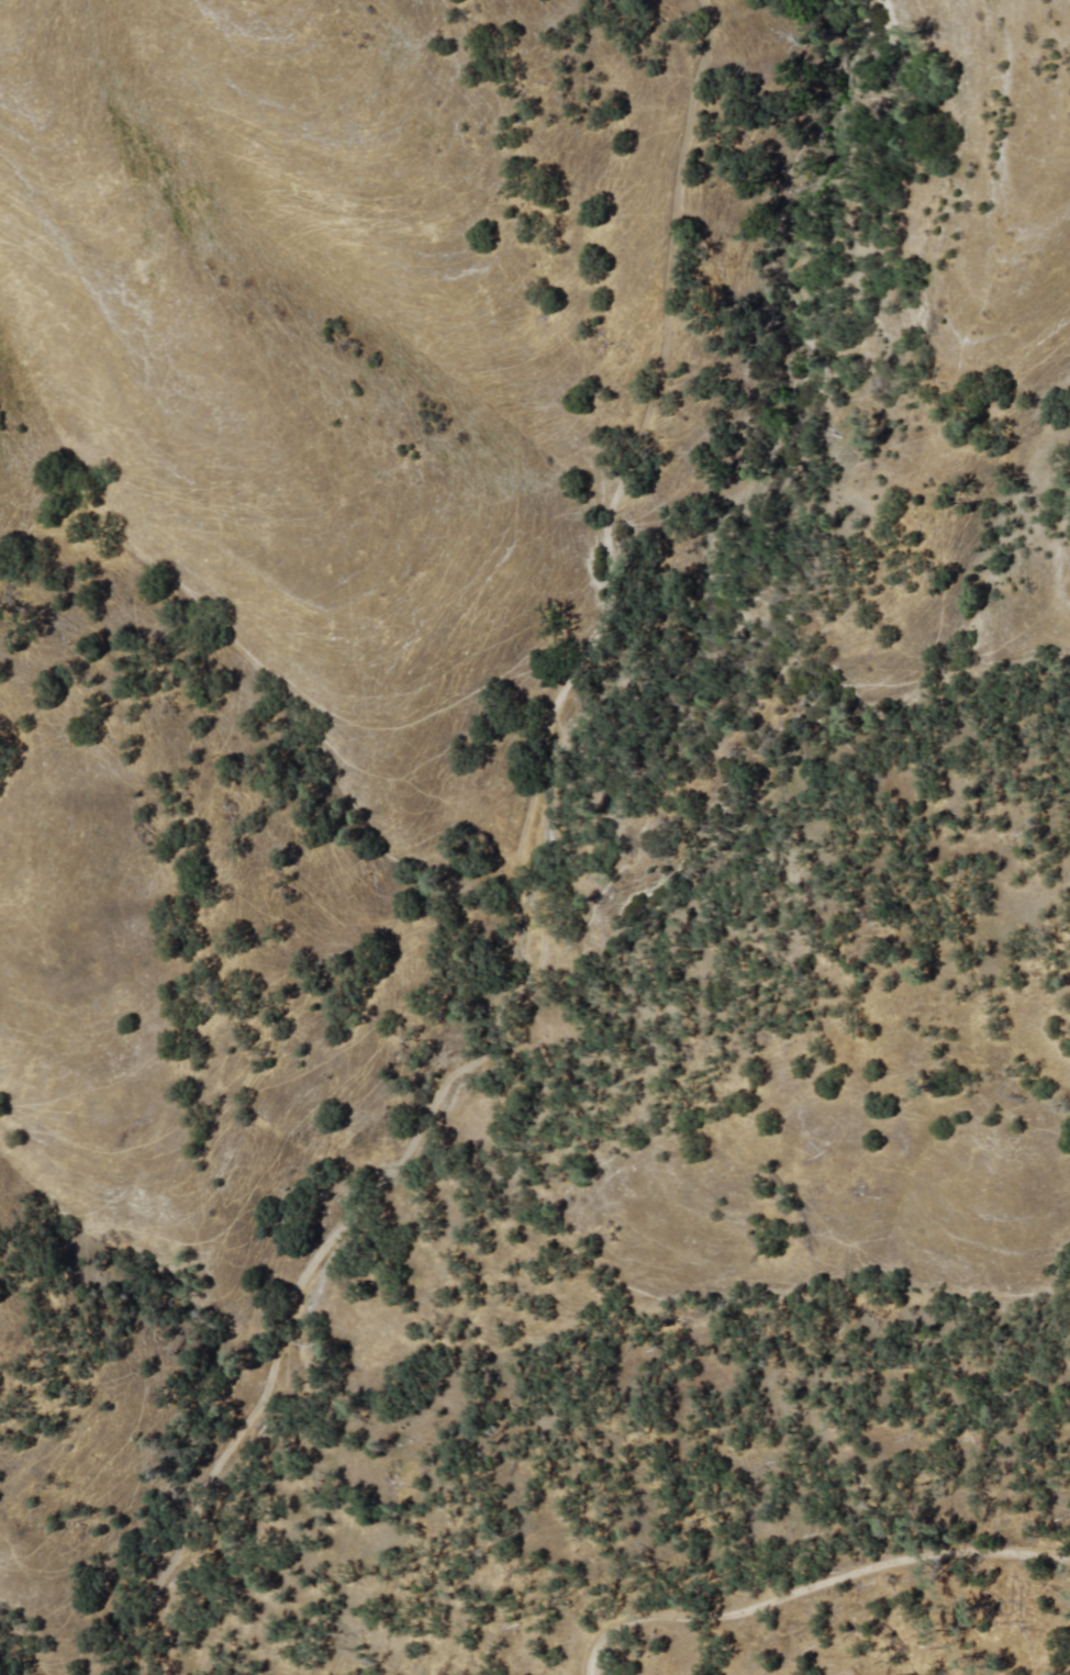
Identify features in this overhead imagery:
road: (791, 1527)

